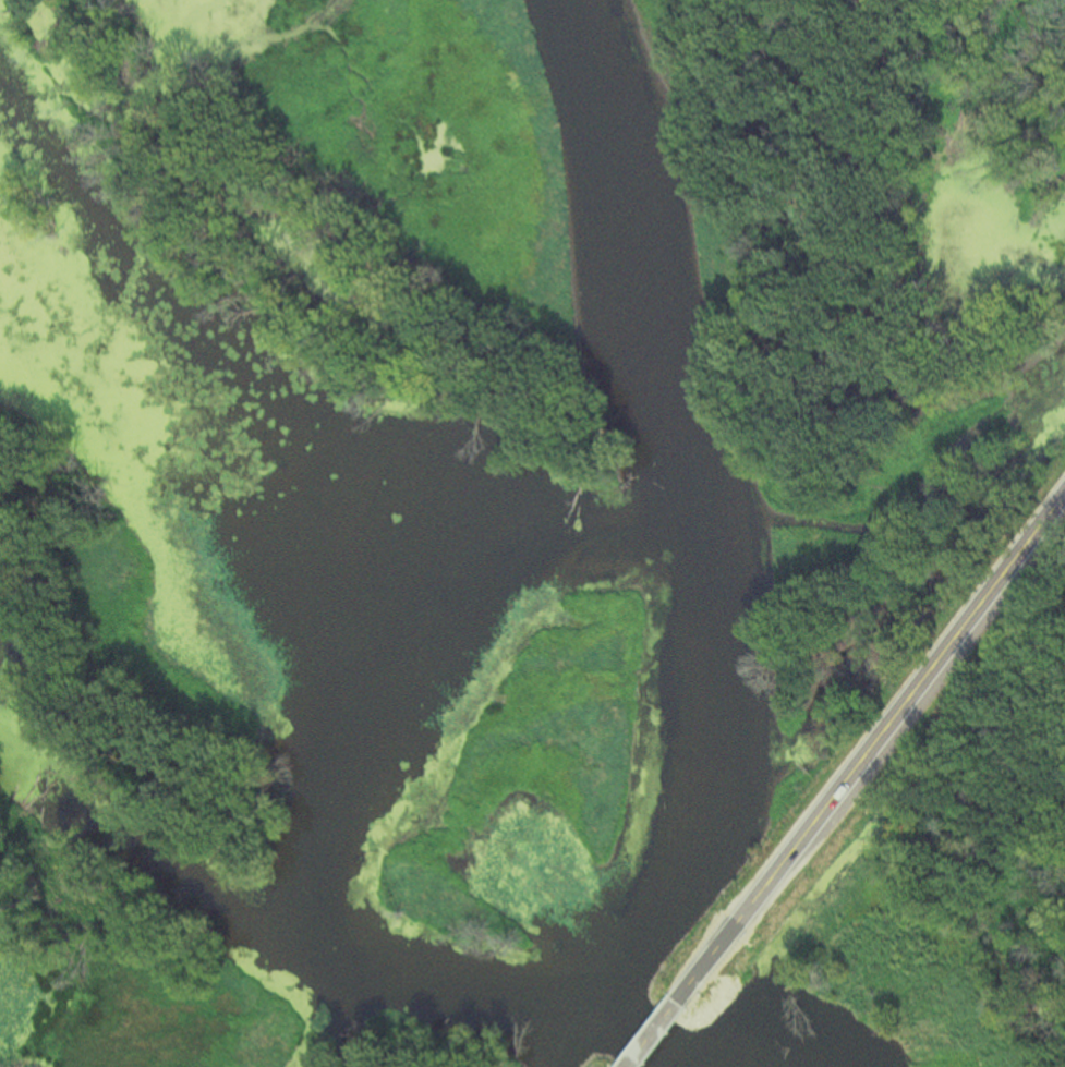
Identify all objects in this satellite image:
road: (870, 739)
road: (649, 1033)

